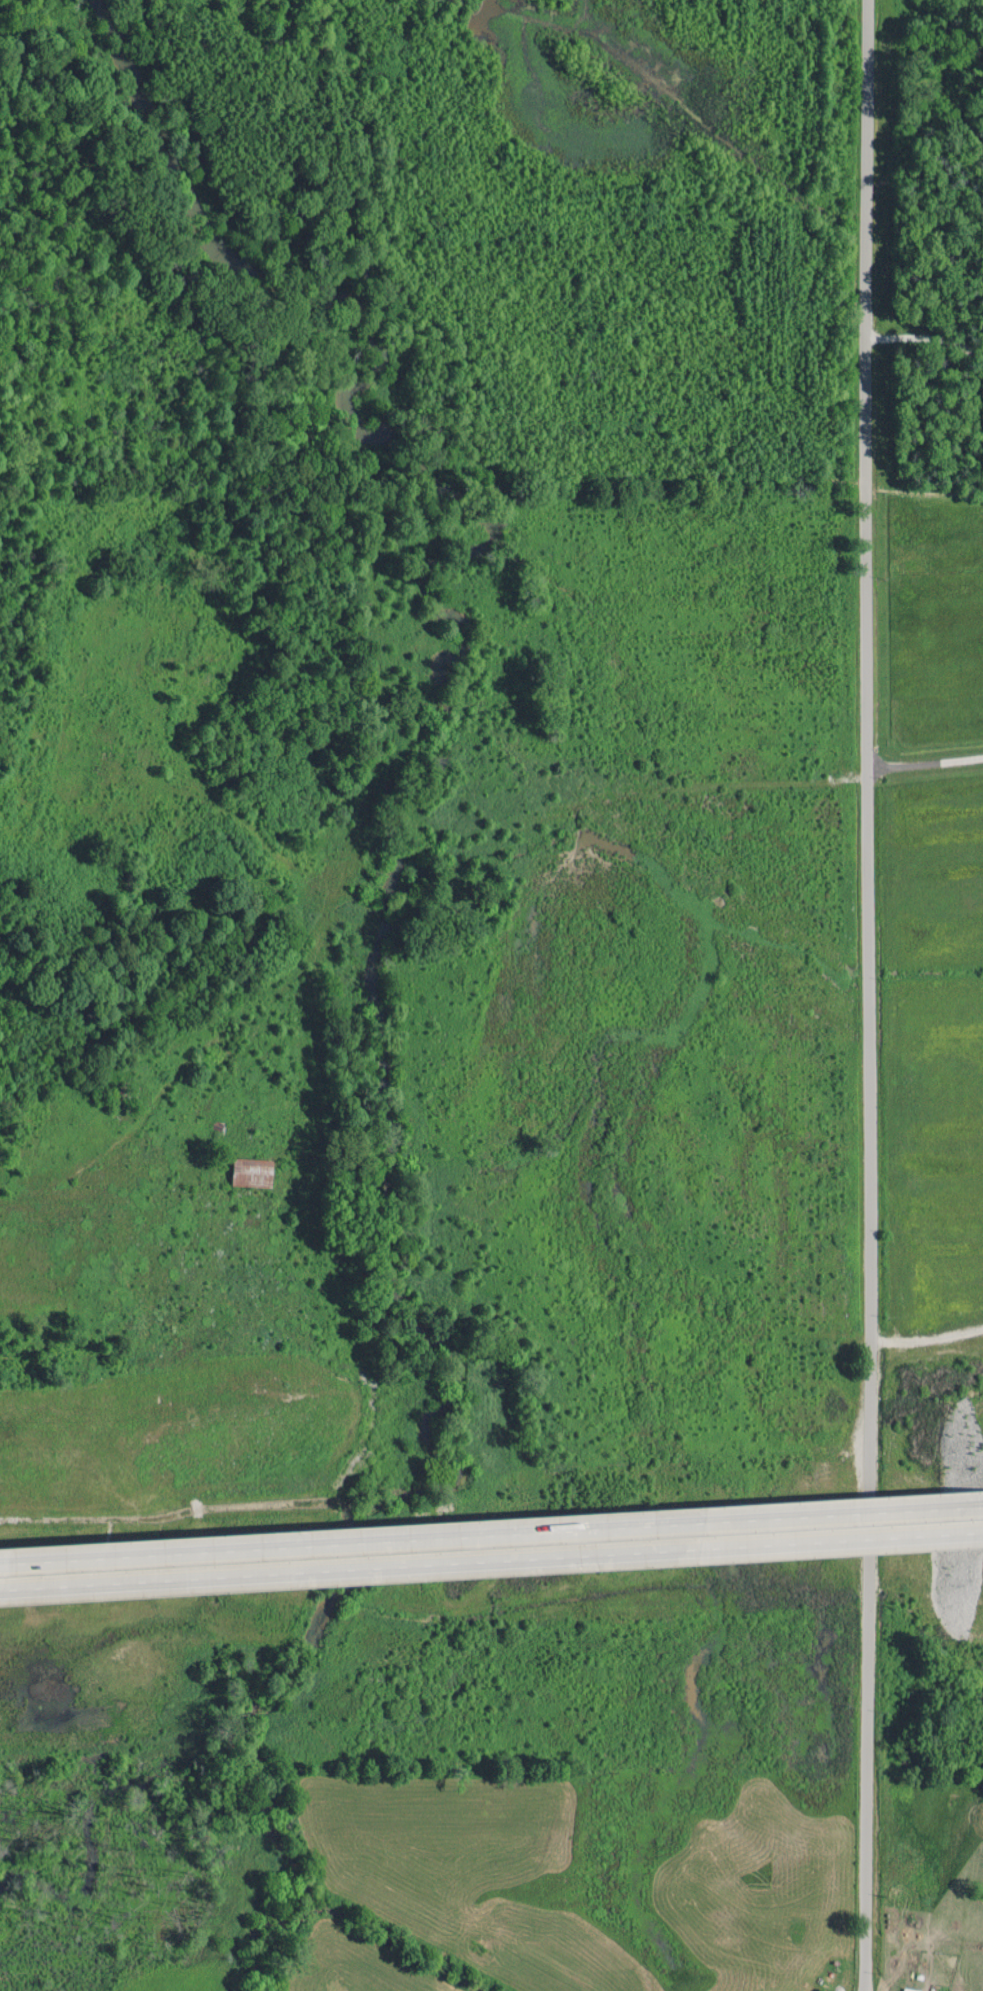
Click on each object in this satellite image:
road: (923, 337)
road: (867, 995)
building: (251, 1172)
road: (926, 1345)
road: (491, 1534)
road: (491, 1560)
building: (909, 1989)

